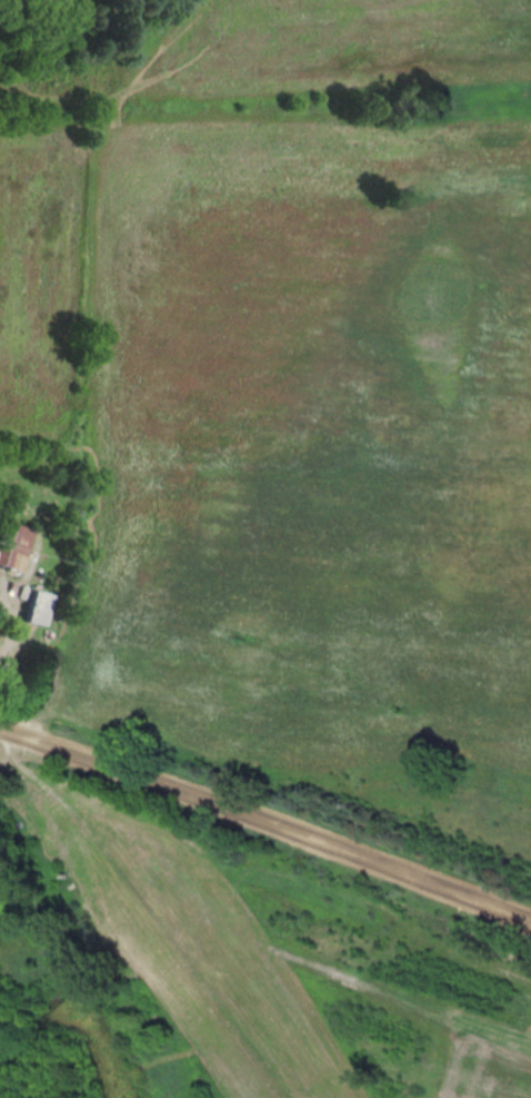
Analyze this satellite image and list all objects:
building: (13, 545)
building: (37, 607)
road: (11, 629)
road: (265, 821)

